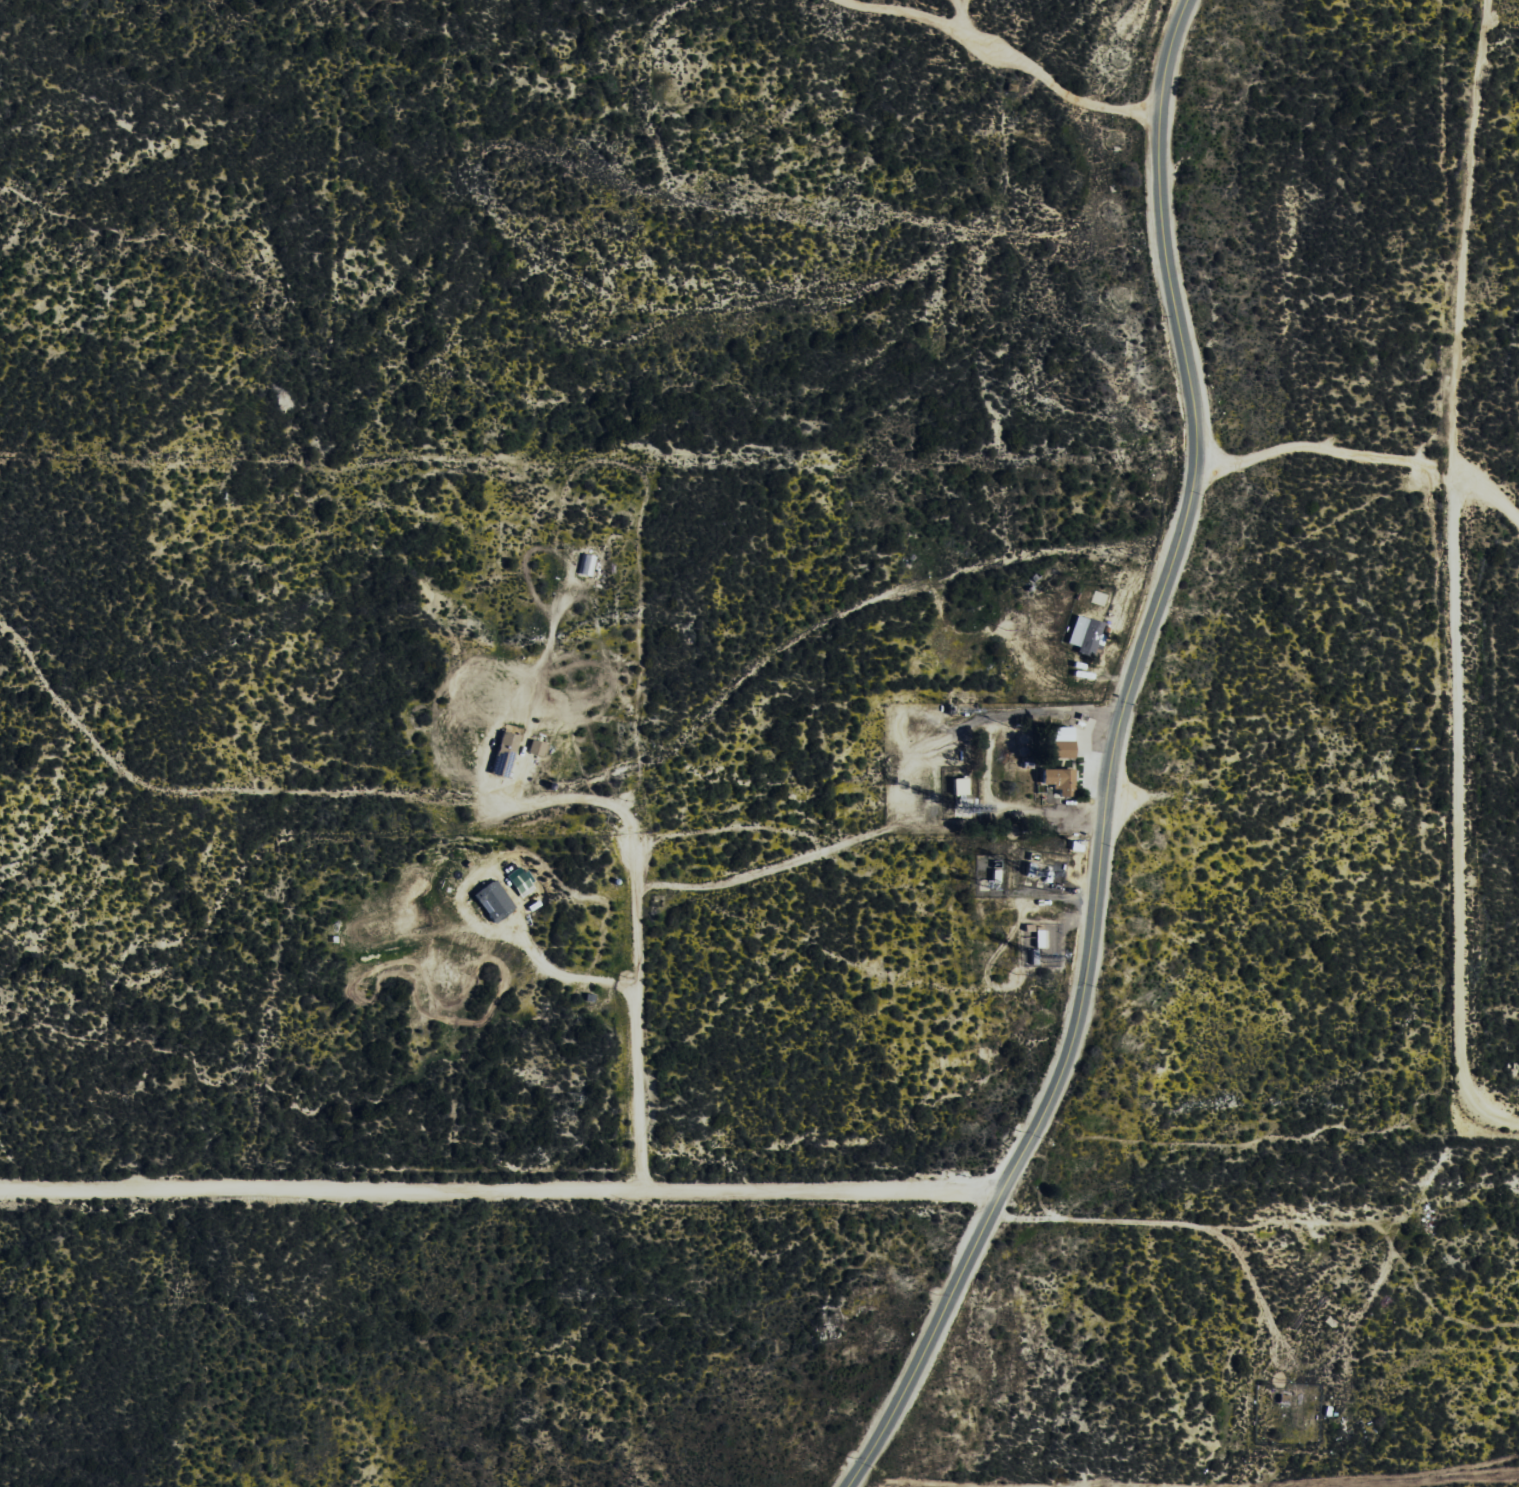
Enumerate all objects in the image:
building: (1084, 635)
building: (1060, 742)
building: (536, 748)
building: (502, 754)
road: (1120, 762)
building: (1058, 781)
building: (958, 786)
building: (492, 901)
building: (1038, 939)
road: (484, 1034)
road: (638, 1121)
road: (504, 1191)

